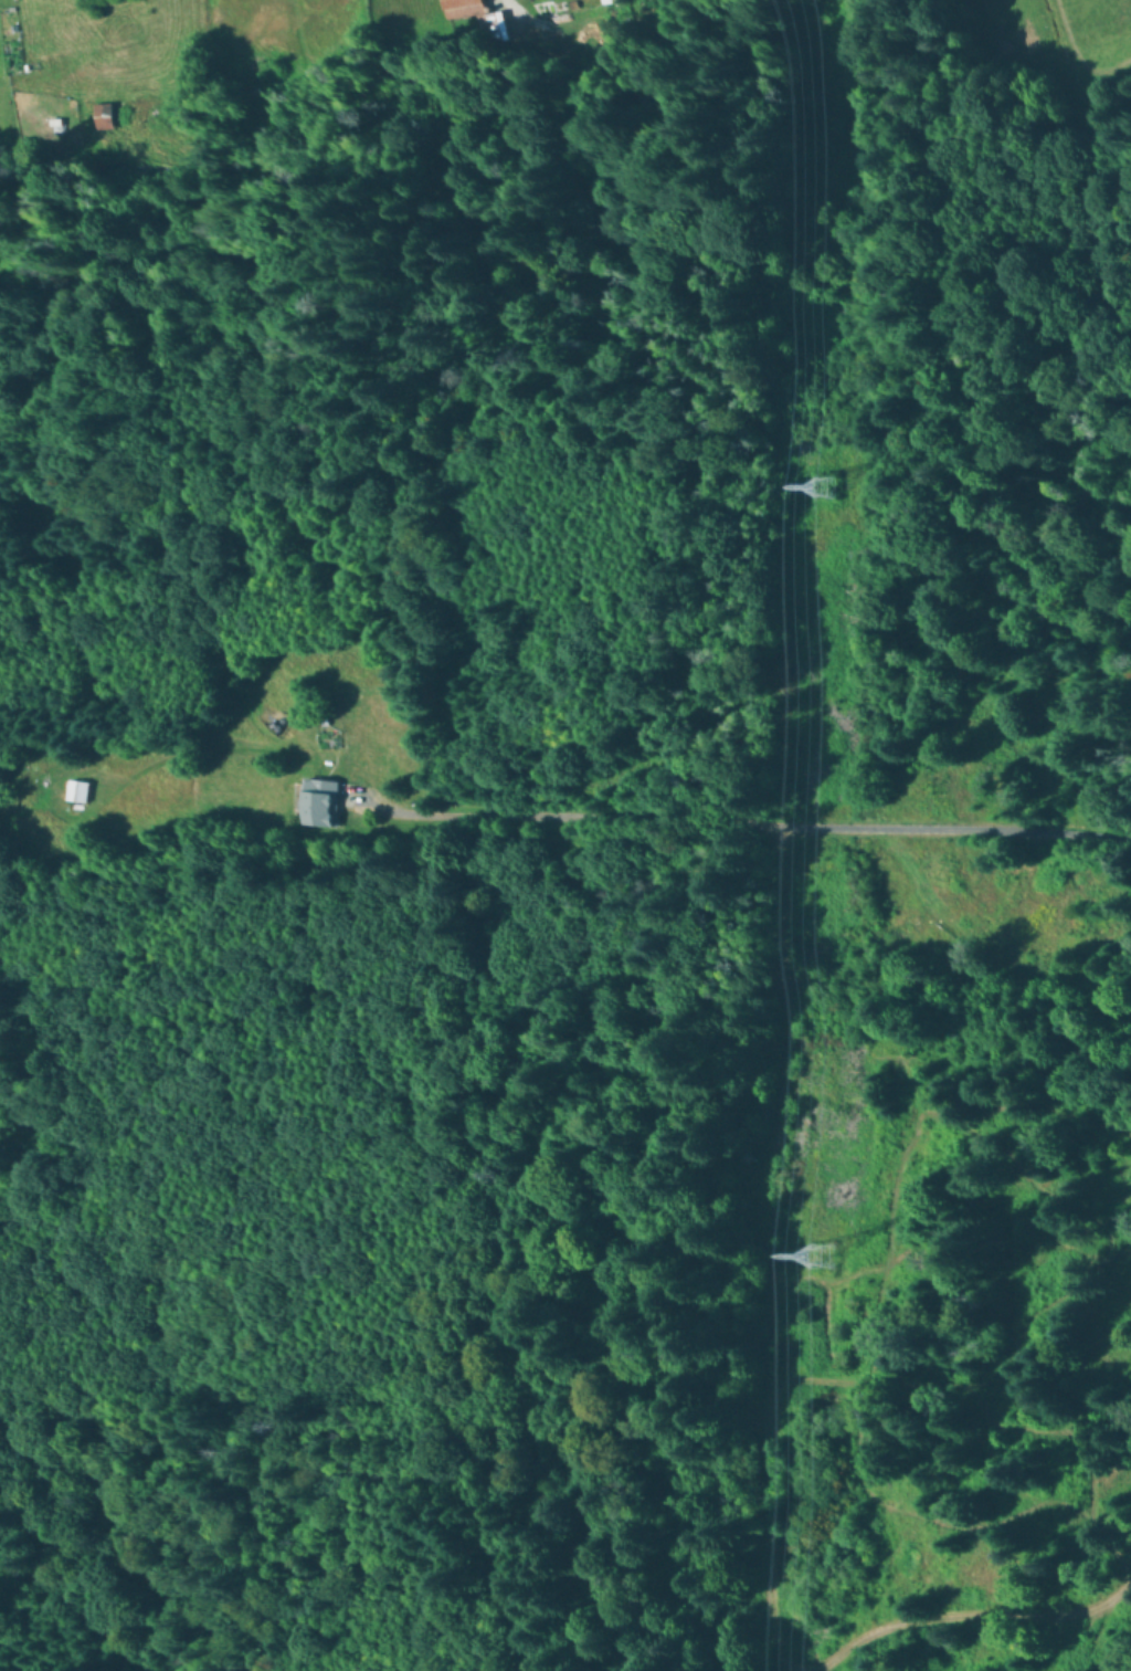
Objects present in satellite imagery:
building: (463, 7)
building: (106, 119)
power tower: (811, 485)
building: (78, 794)
building: (321, 805)
road: (743, 823)
power tower: (816, 1255)
road: (768, 1349)
road: (975, 1615)

